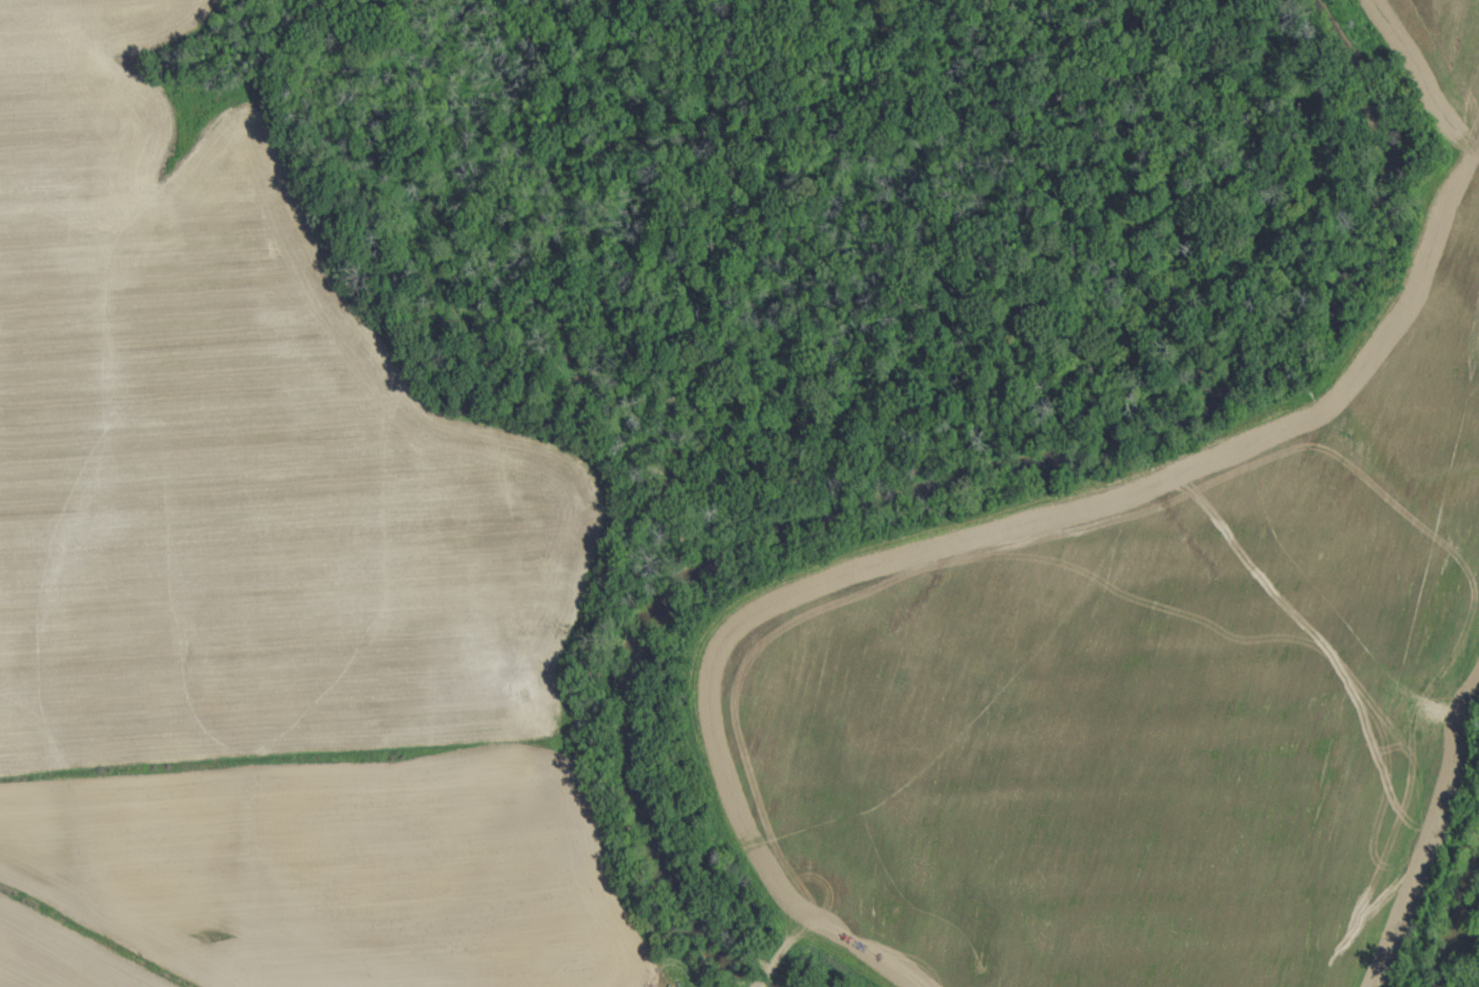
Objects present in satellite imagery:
river: (946, 485)

